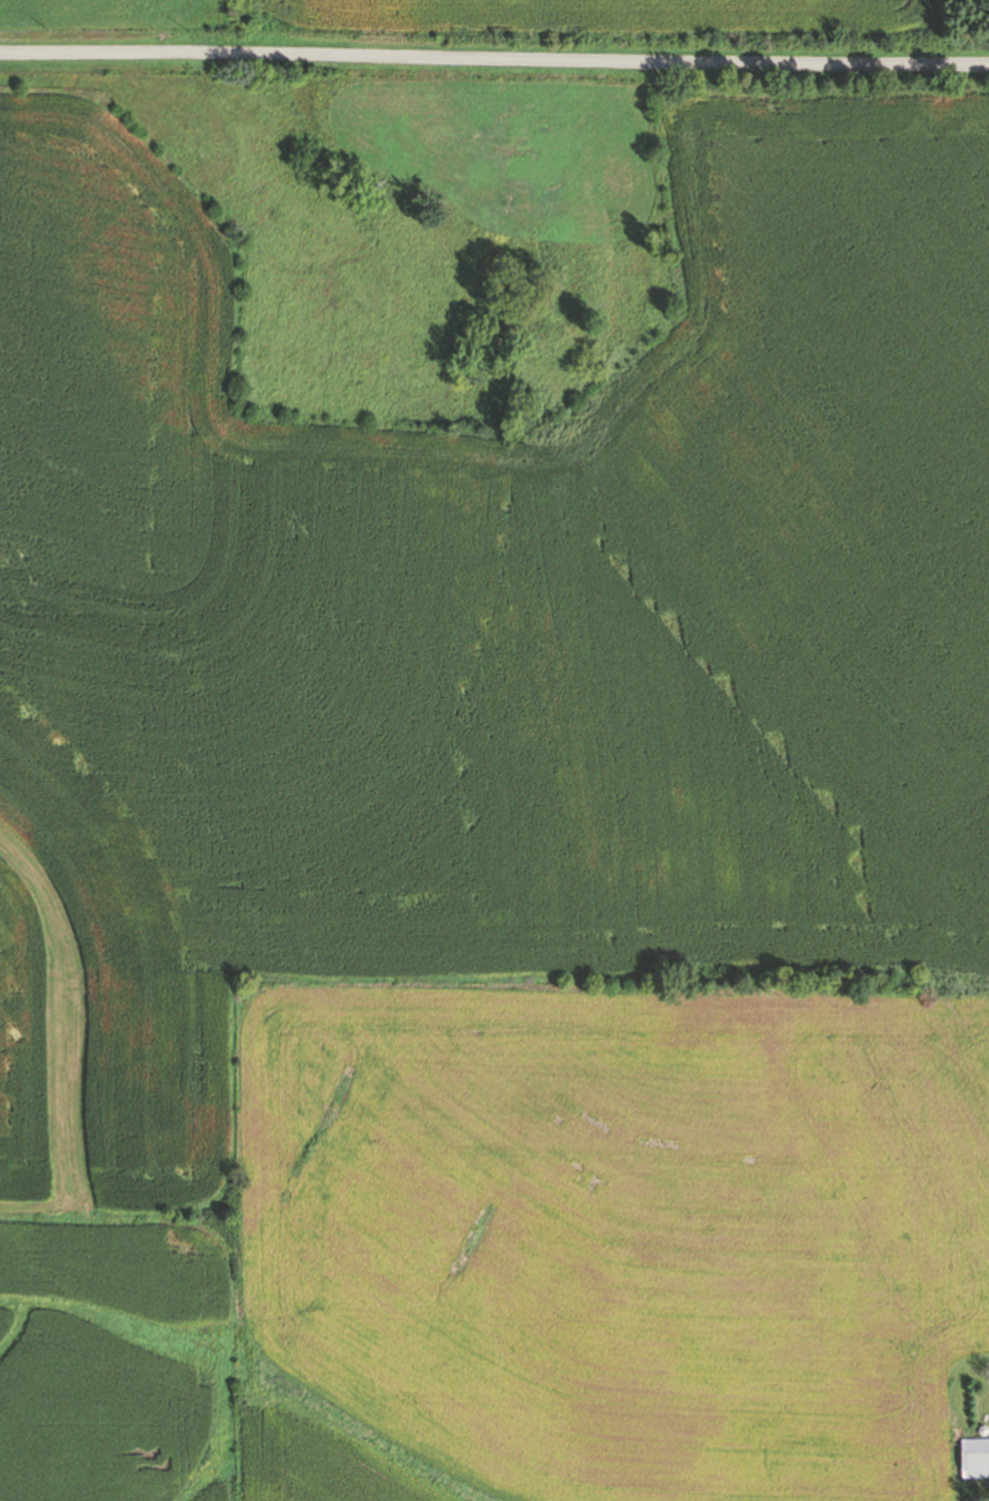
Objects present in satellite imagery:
road: (494, 55)
building: (975, 1456)

